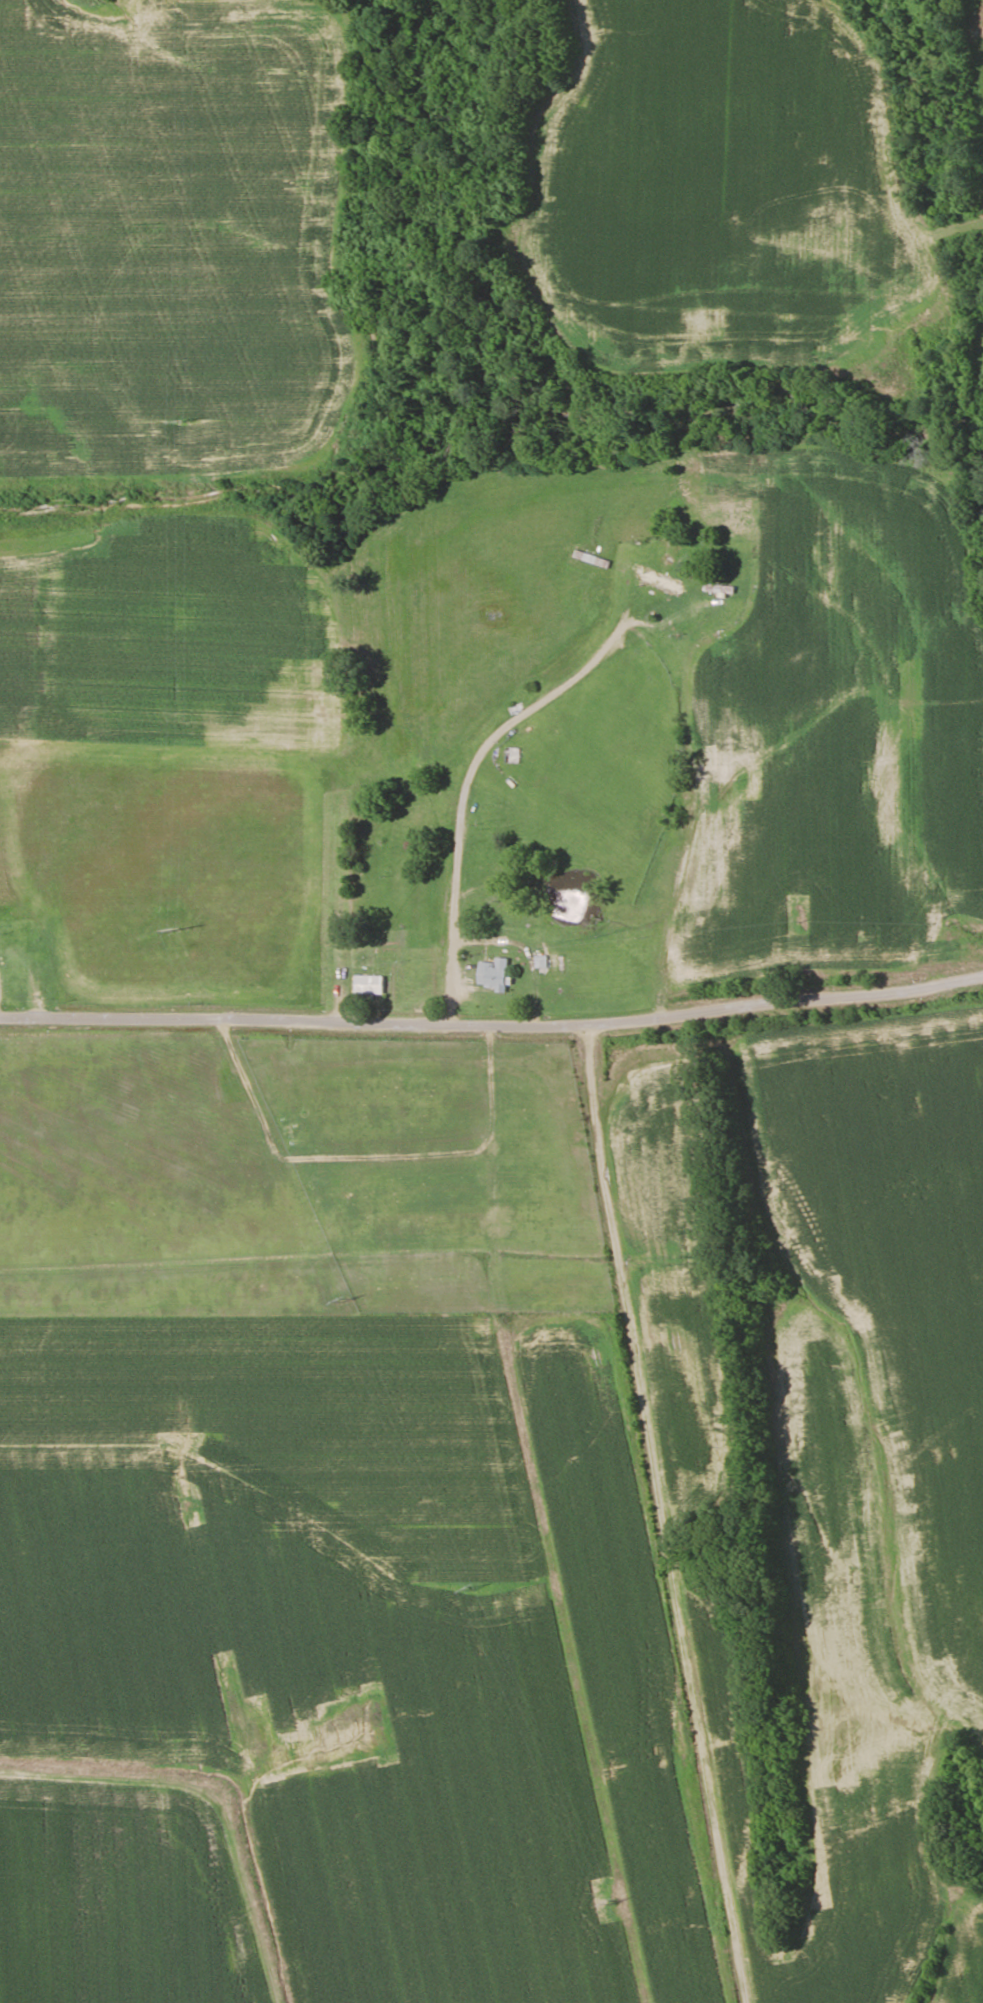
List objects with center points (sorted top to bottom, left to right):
building: (661, 584)
building: (720, 591)
road: (525, 941)
building: (494, 976)
building: (369, 985)
road: (492, 1022)

